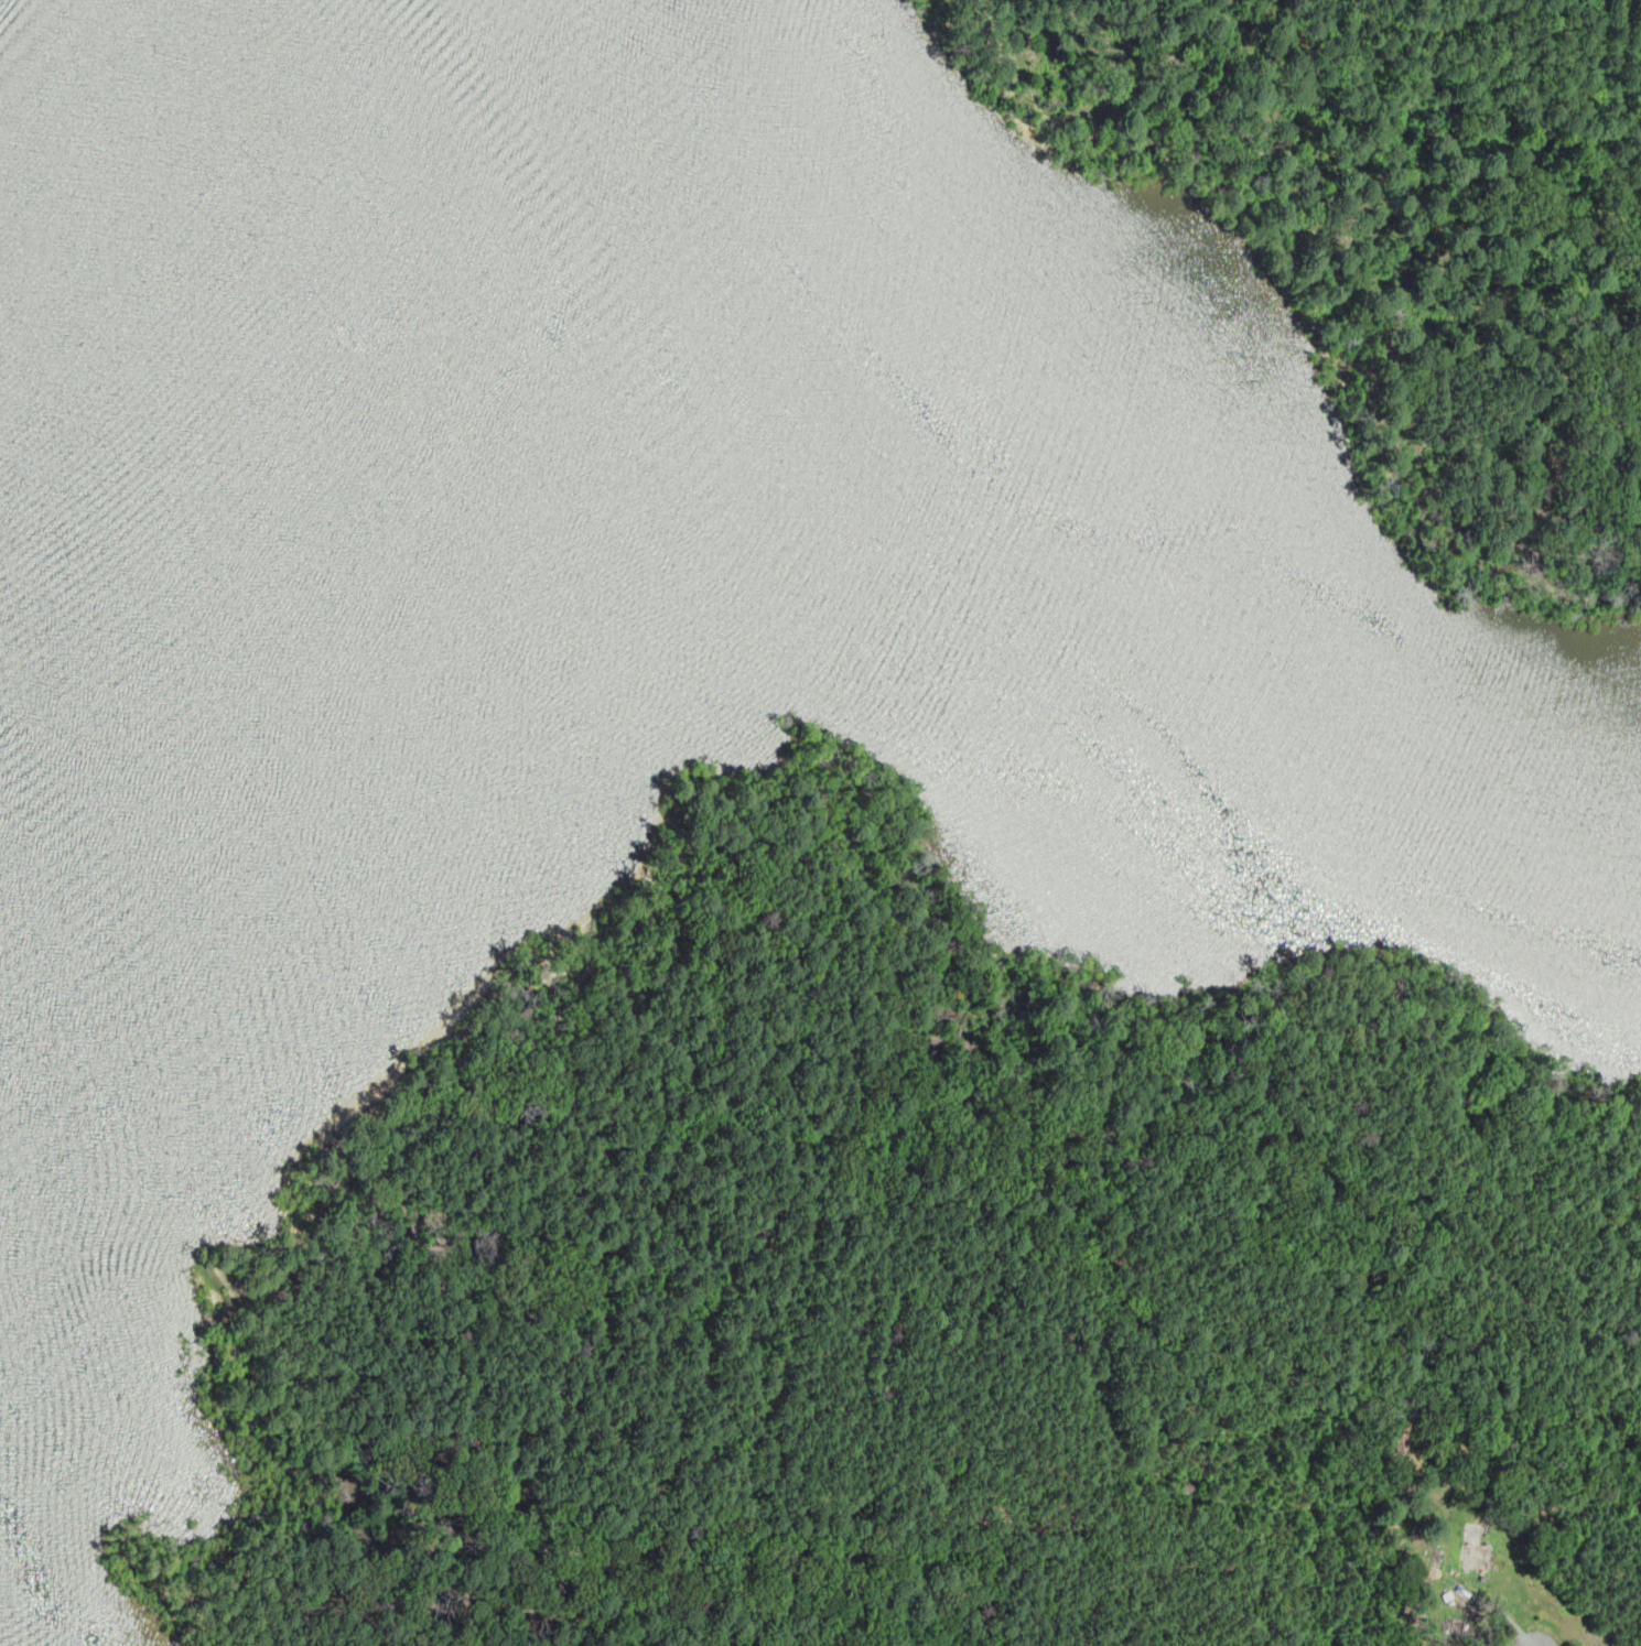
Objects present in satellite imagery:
building: (1477, 1549)
road: (1534, 1637)

